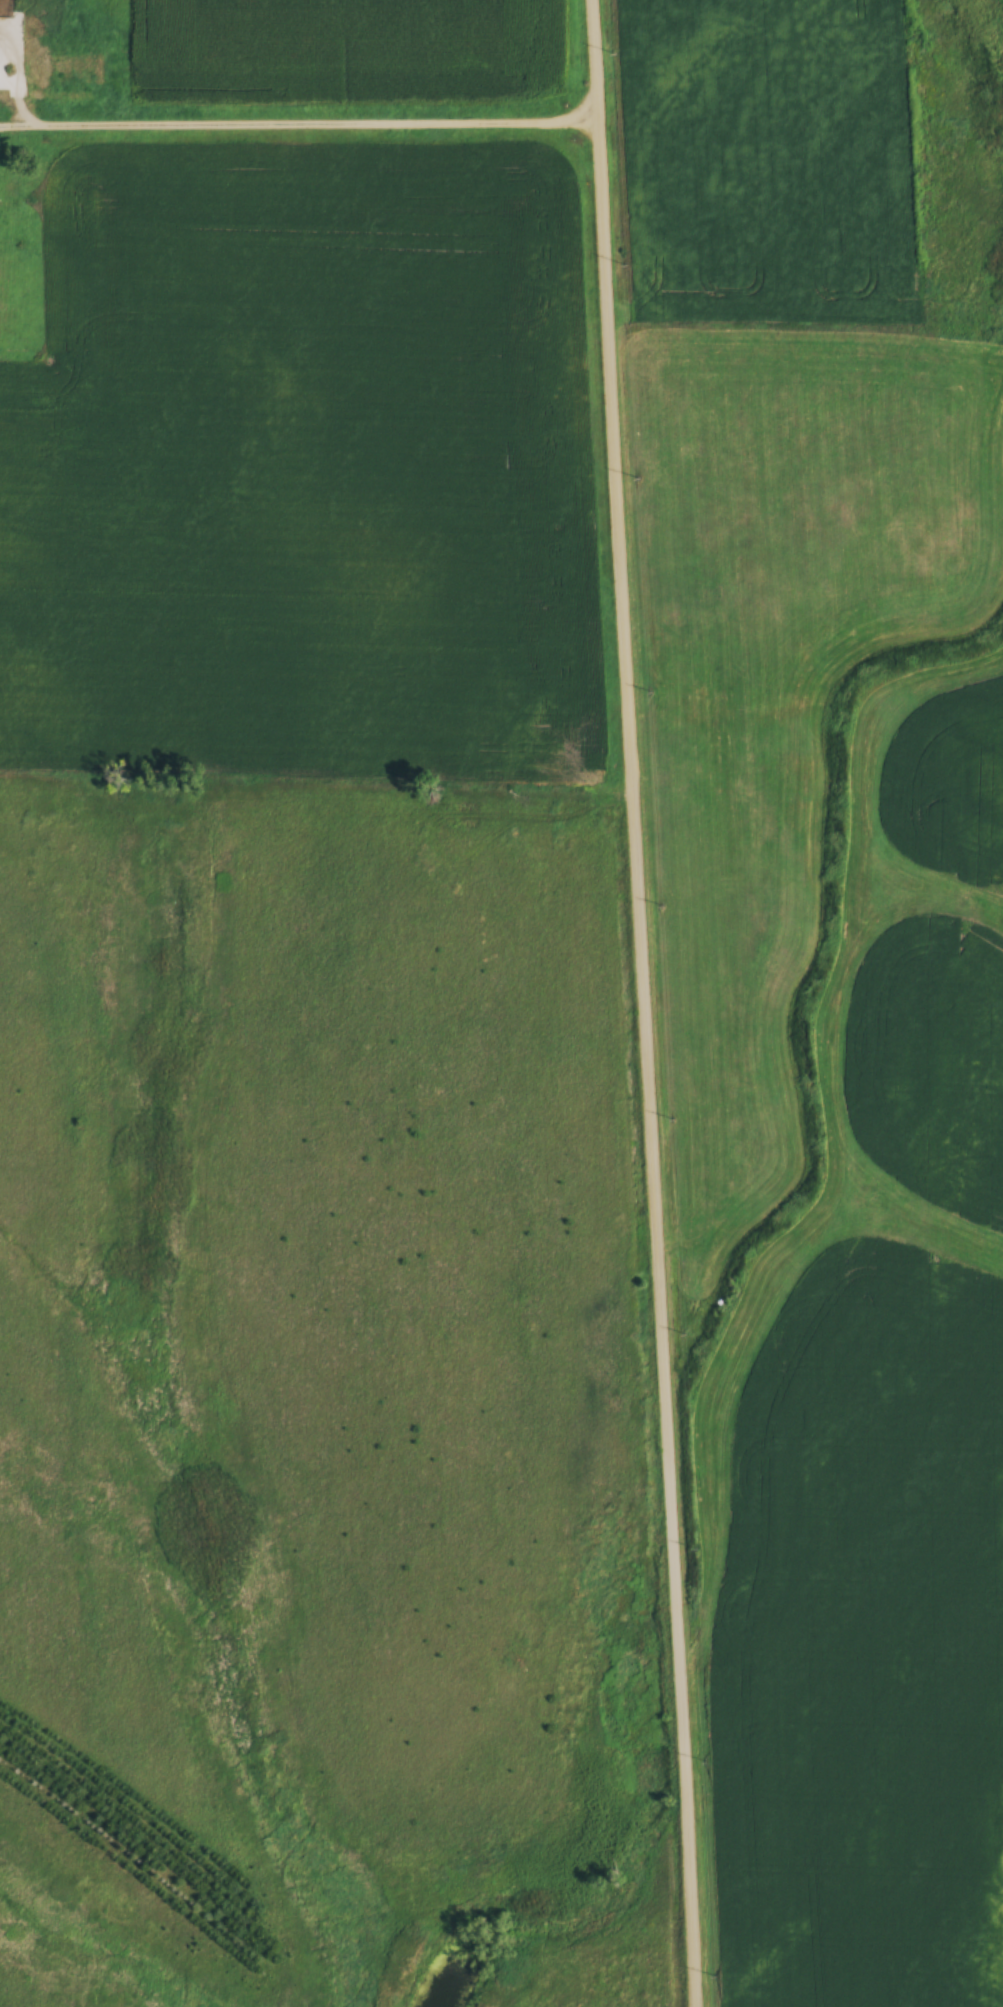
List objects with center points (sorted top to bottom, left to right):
building: (71, 43)
road: (298, 123)
road: (644, 1003)

